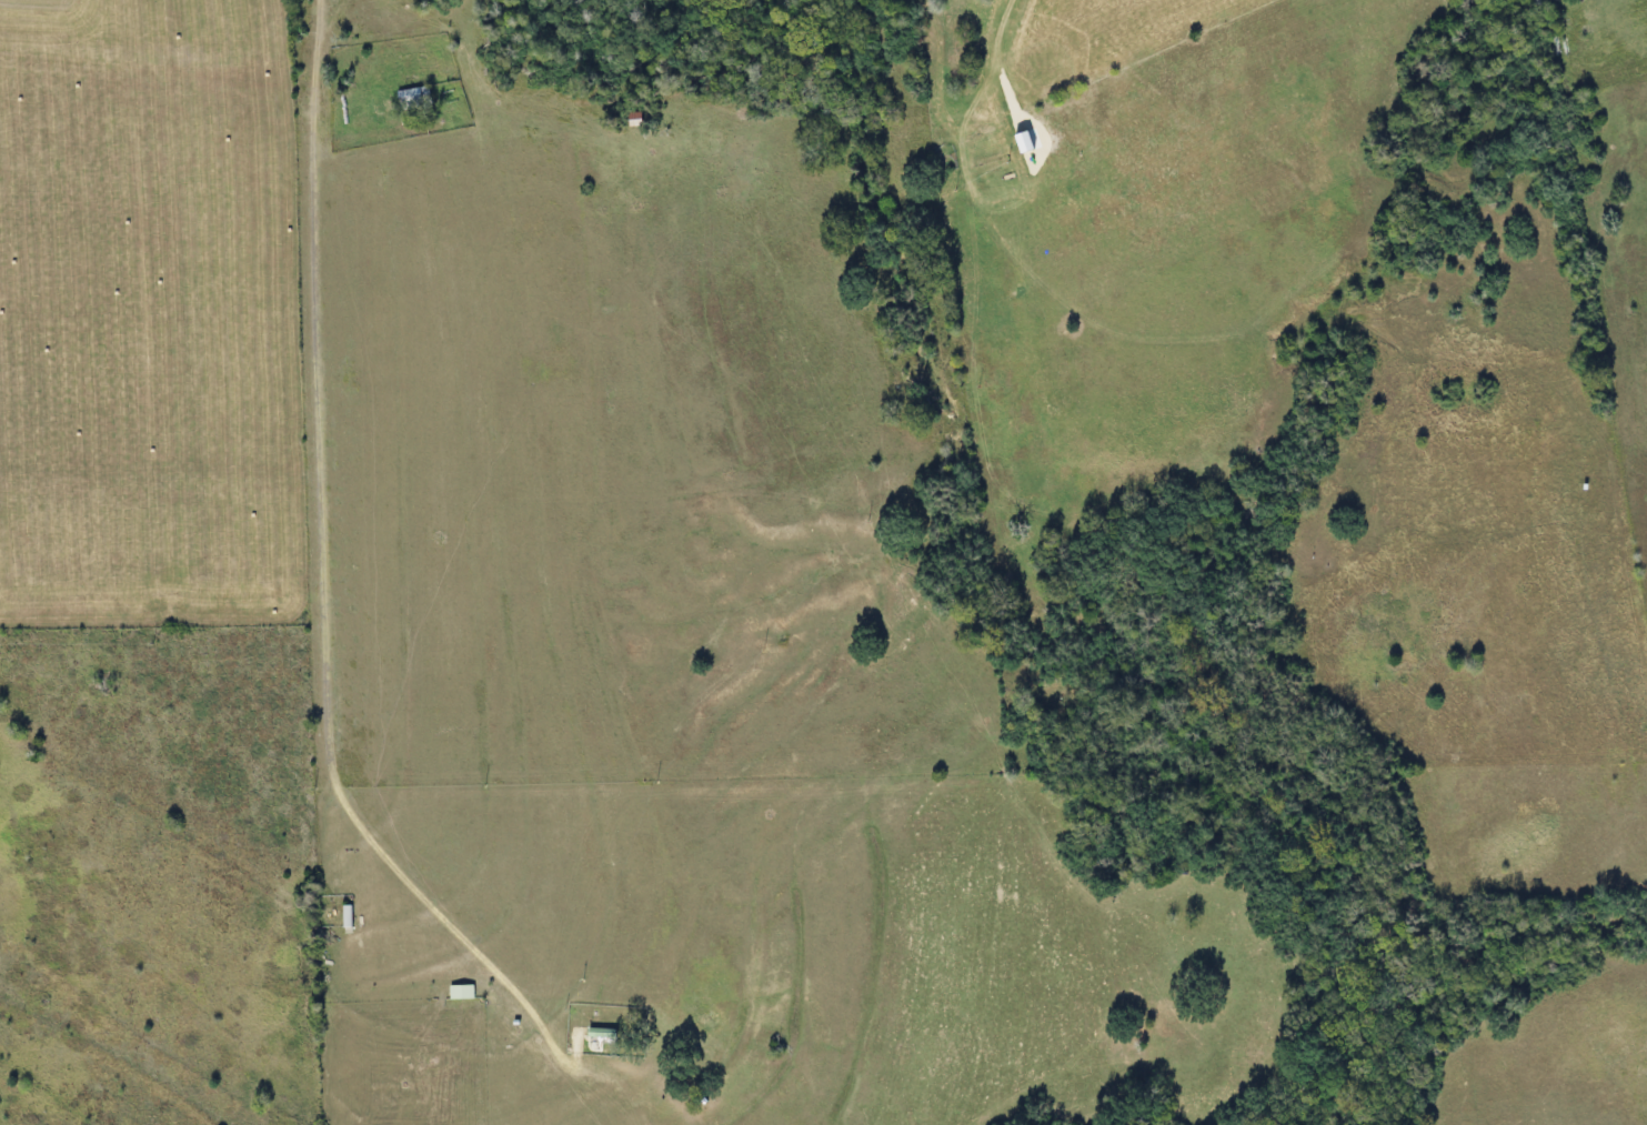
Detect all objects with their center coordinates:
building: (416, 98)
road: (333, 575)
building: (468, 992)

